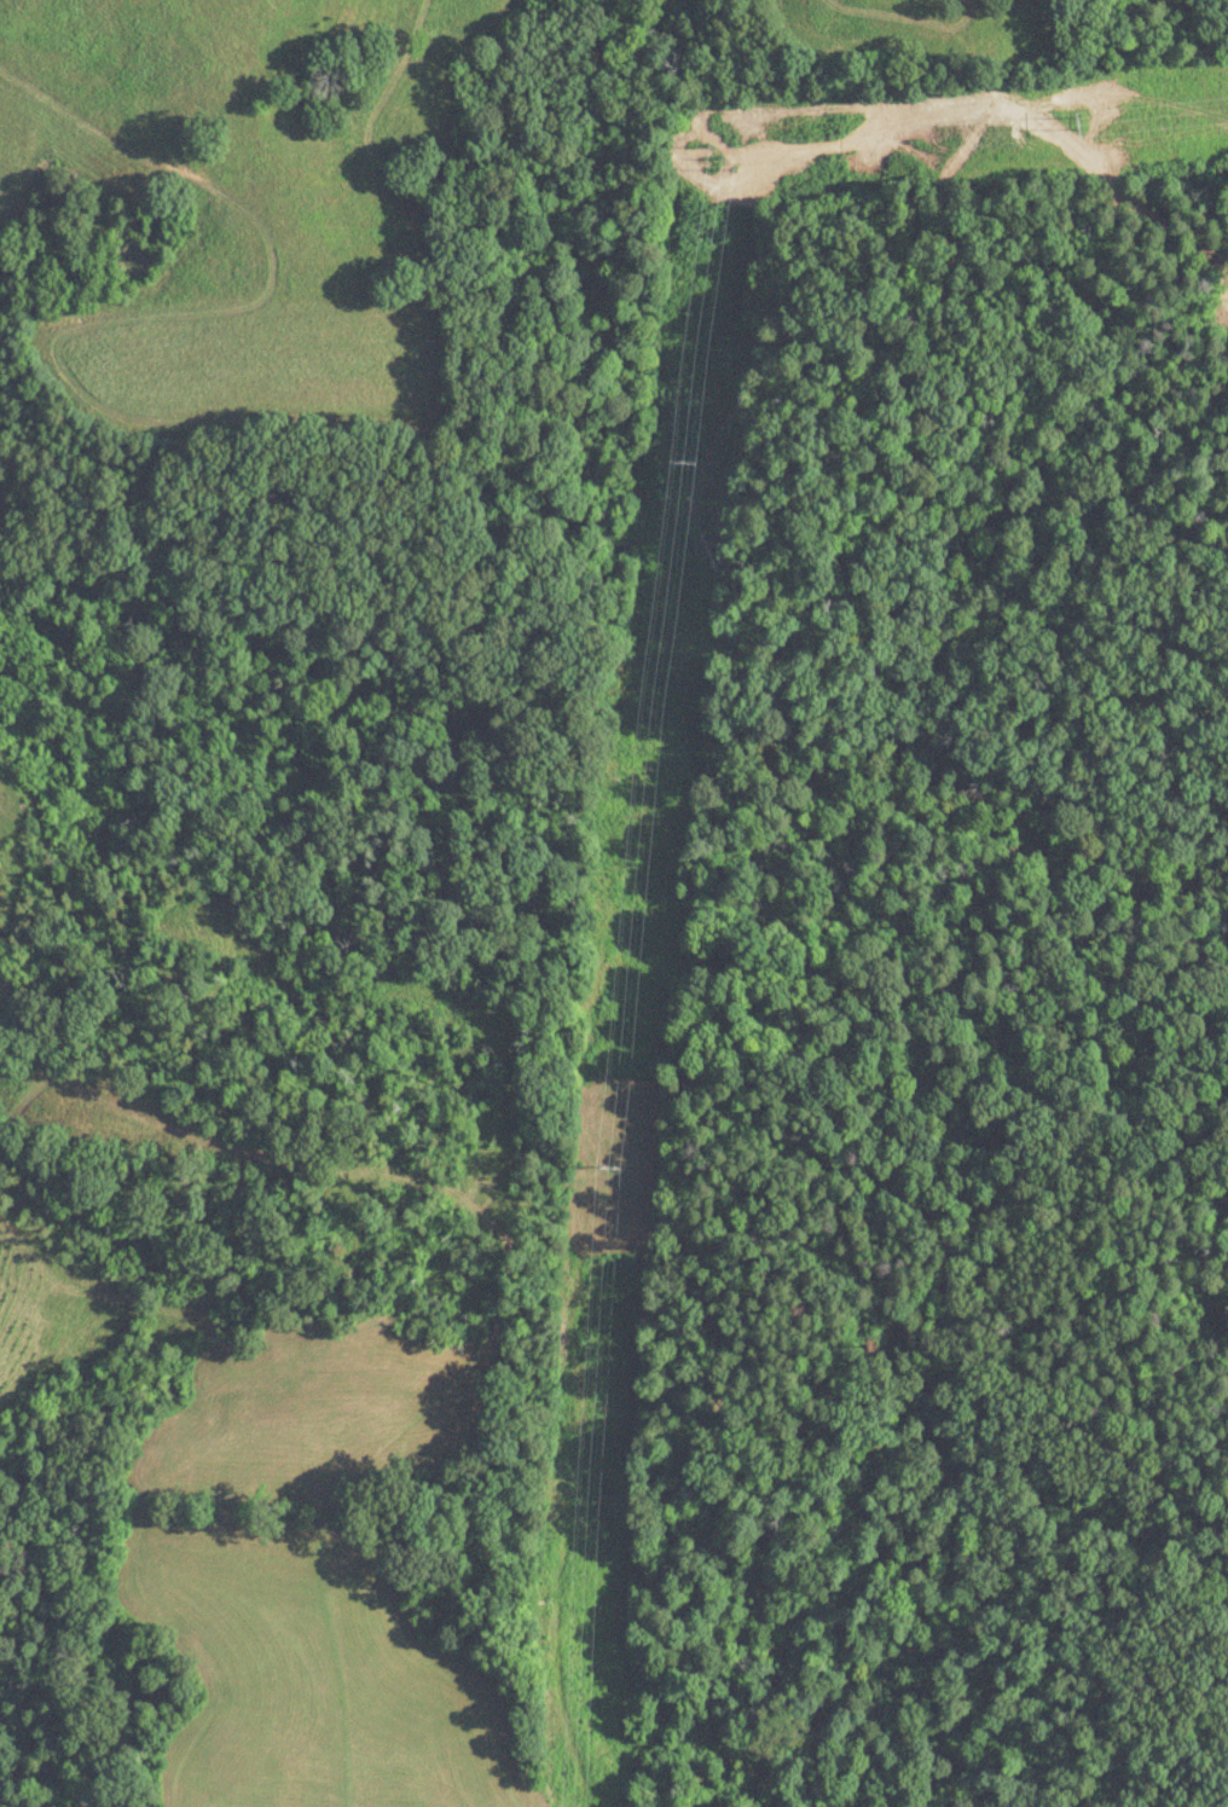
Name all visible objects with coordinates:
power tower: (1093, 118)
power tower: (731, 158)
power tower: (691, 459)
power tower: (612, 1168)
road: (48, 1770)

